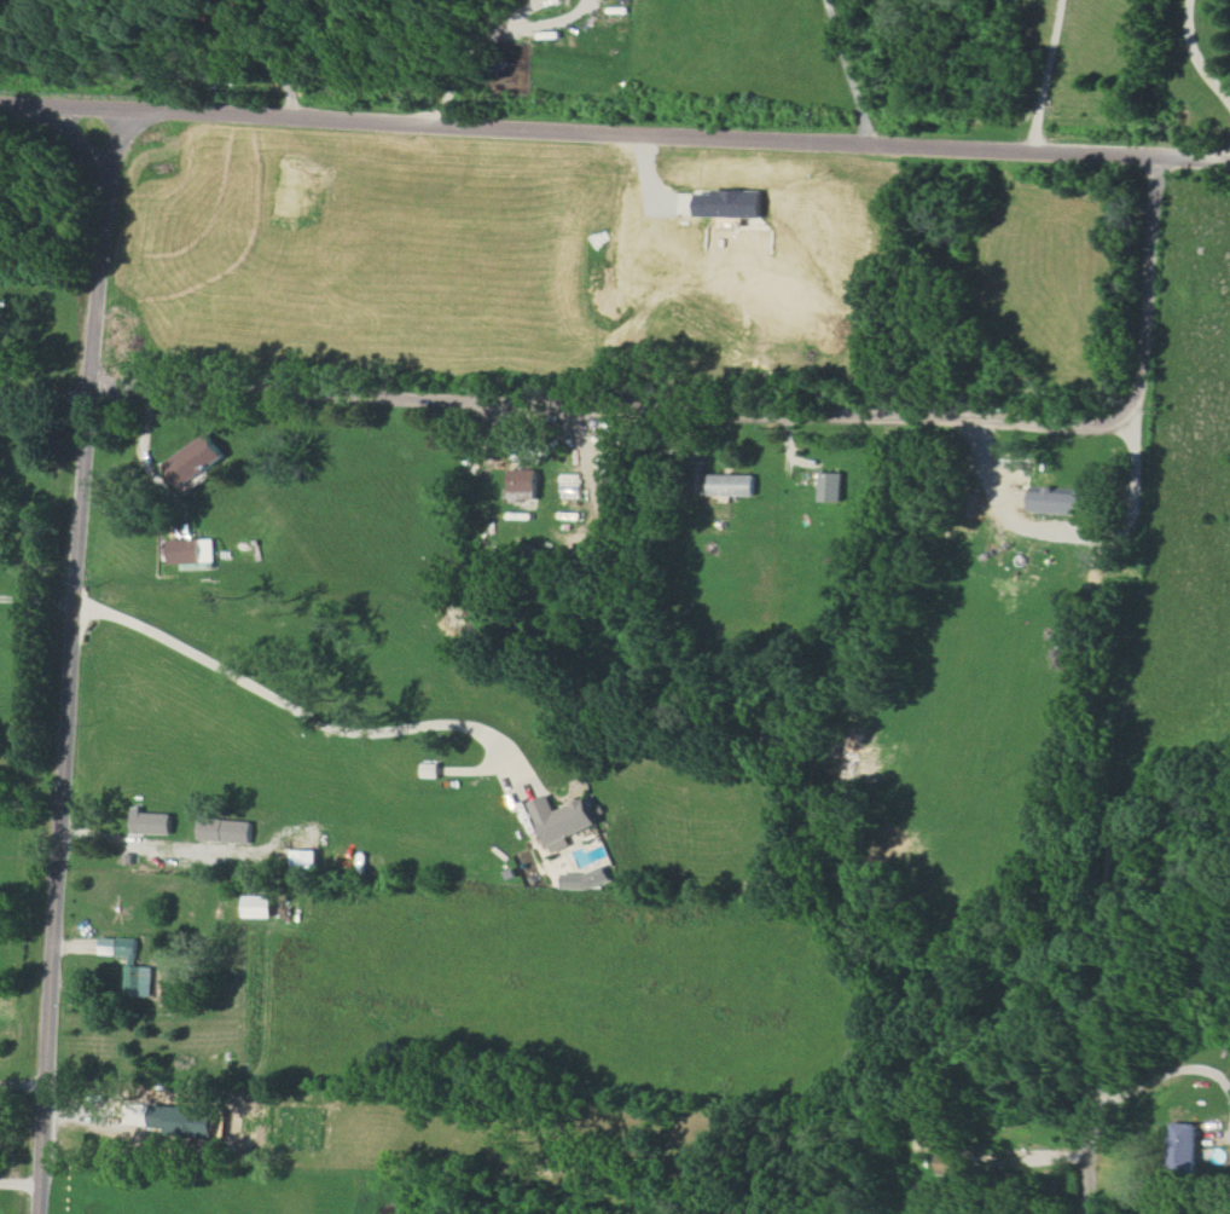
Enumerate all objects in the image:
road: (474, 56)
road: (1195, 57)
crop: (729, 63)
road: (272, 65)
road: (847, 70)
road: (1043, 75)
road: (614, 132)
building: (729, 203)
road: (43, 383)
road: (737, 406)
road: (574, 438)
building: (192, 462)
building: (523, 482)
building: (732, 485)
building: (569, 486)
building: (830, 486)
building: (1060, 502)
road: (1068, 533)
building: (190, 550)
road: (36, 605)
road: (70, 658)
crop: (27, 667)
crop: (976, 705)
road: (291, 715)
building: (561, 821)
building: (151, 822)
building: (225, 831)
road: (137, 843)
building: (257, 906)
building: (129, 965)
crop: (551, 987)
road: (1159, 1079)
road: (23, 1081)
building: (1183, 1147)
building: (957, 1162)
road: (1090, 1168)
road: (19, 1181)
crop: (11, 1203)

